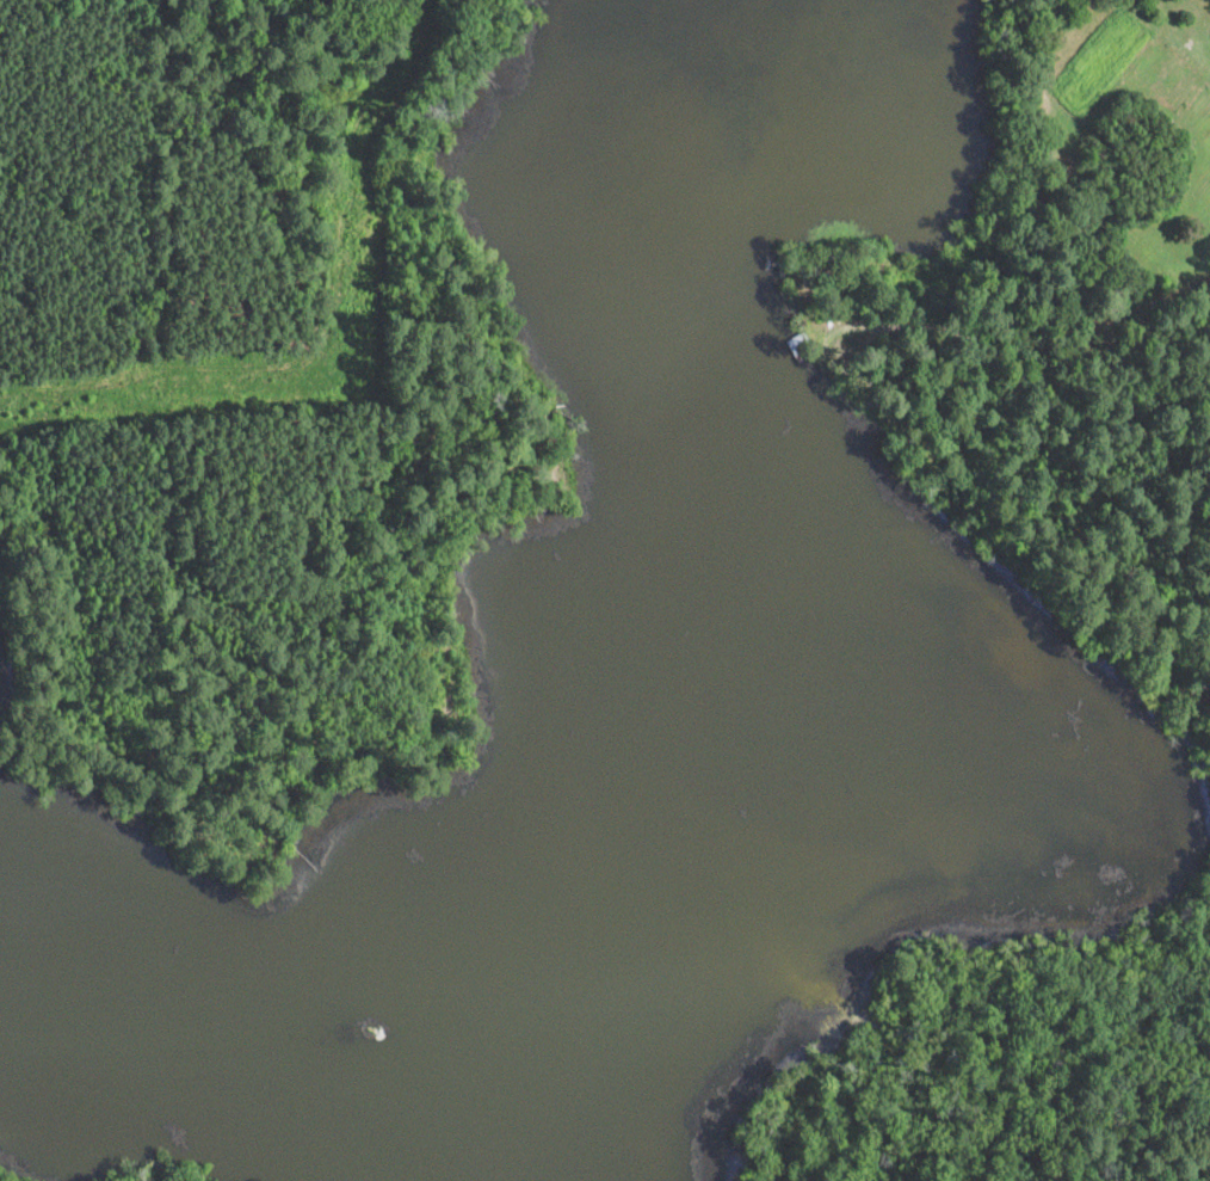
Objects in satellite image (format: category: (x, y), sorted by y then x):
building: (801, 346)
building: (1204, 422)

